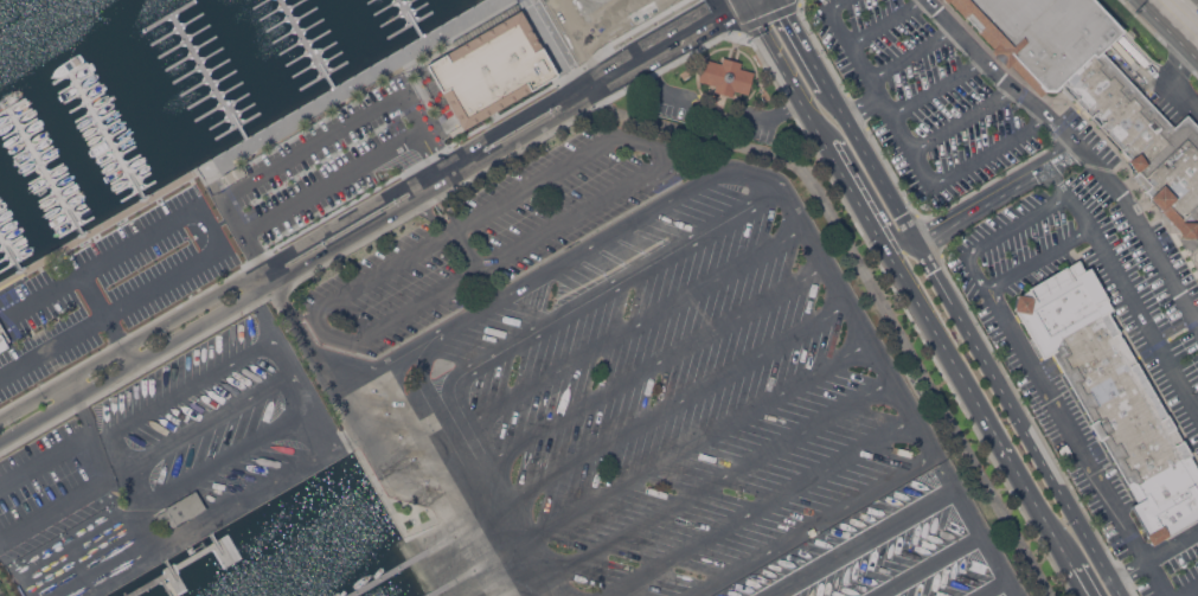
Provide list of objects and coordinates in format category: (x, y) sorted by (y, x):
building: (942, 0)
building: (946, 0)
road: (1197, 0)
road: (744, 5)
road: (758, 5)
traffic signals: (748, 11)
pier: (406, 19)
road: (600, 19)
road: (886, 21)
road: (722, 24)
road: (1167, 28)
road: (568, 39)
road: (553, 43)
road: (687, 44)
pier: (300, 46)
road: (731, 47)
road: (803, 47)
road: (912, 56)
building: (492, 69)
road: (639, 75)
building: (725, 76)
pier: (204, 78)
road: (1177, 81)
road: (592, 88)
road: (938, 89)
building: (1095, 90)
road: (863, 110)
road: (717, 111)
parking lot: (717, 117)
road: (963, 121)
pier: (113, 133)
road: (707, 135)
road: (908, 145)
road: (1080, 146)
road: (670, 155)
parking lot: (337, 156)
pier: (51, 168)
road: (875, 169)
road: (843, 174)
road: (341, 177)
road: (864, 180)
road: (688, 193)
road: (998, 194)
parking lot: (1044, 205)
road: (360, 210)
road: (1000, 235)
building: (147, 236)
pier: (13, 244)
road: (462, 249)
road: (1038, 261)
road: (300, 270)
road: (78, 276)
road: (871, 287)
road: (1126, 287)
road: (602, 296)
parking lot: (89, 306)
road: (103, 321)
road: (297, 331)
road: (623, 333)
building: (2, 339)
parking lot: (621, 370)
road: (646, 373)
road: (186, 392)
building: (1113, 395)
road: (303, 396)
road: (668, 412)
road: (1019, 419)
road: (211, 421)
road: (1037, 427)
road: (90, 429)
road: (994, 431)
road: (365, 437)
road: (350, 442)
road: (1077, 443)
road: (690, 449)
road: (113, 456)
road: (45, 457)
road: (225, 460)
road: (118, 474)
road: (467, 476)
parking lot: (52, 479)
road: (277, 483)
road: (711, 485)
road: (761, 508)
building: (181, 510)
road: (53, 511)
road: (140, 511)
road: (814, 526)
road: (974, 526)
road: (863, 543)
road: (1061, 545)
pier: (220, 549)
pier: (194, 557)
pier: (423, 557)
road: (1155, 558)
road: (928, 565)
pier: (474, 575)
pier: (175, 576)
road: (1081, 581)
pier: (152, 584)
pier: (166, 588)
road: (993, 588)
pier: (521, 590)
park: (1, 591)
road: (1192, 594)

